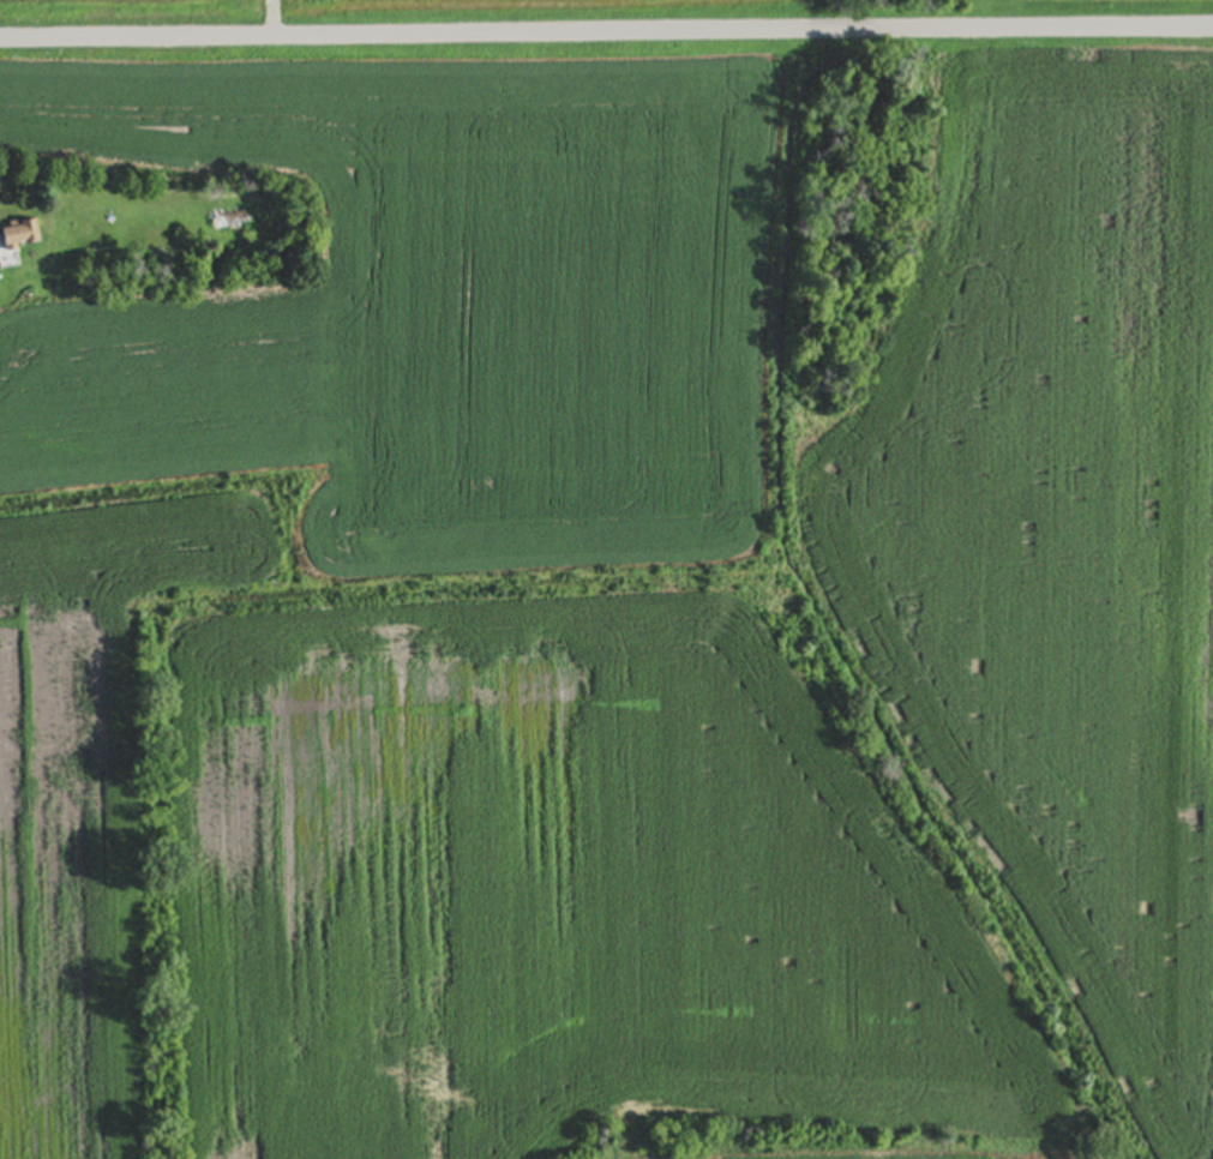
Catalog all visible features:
road: (606, 32)
building: (19, 235)

